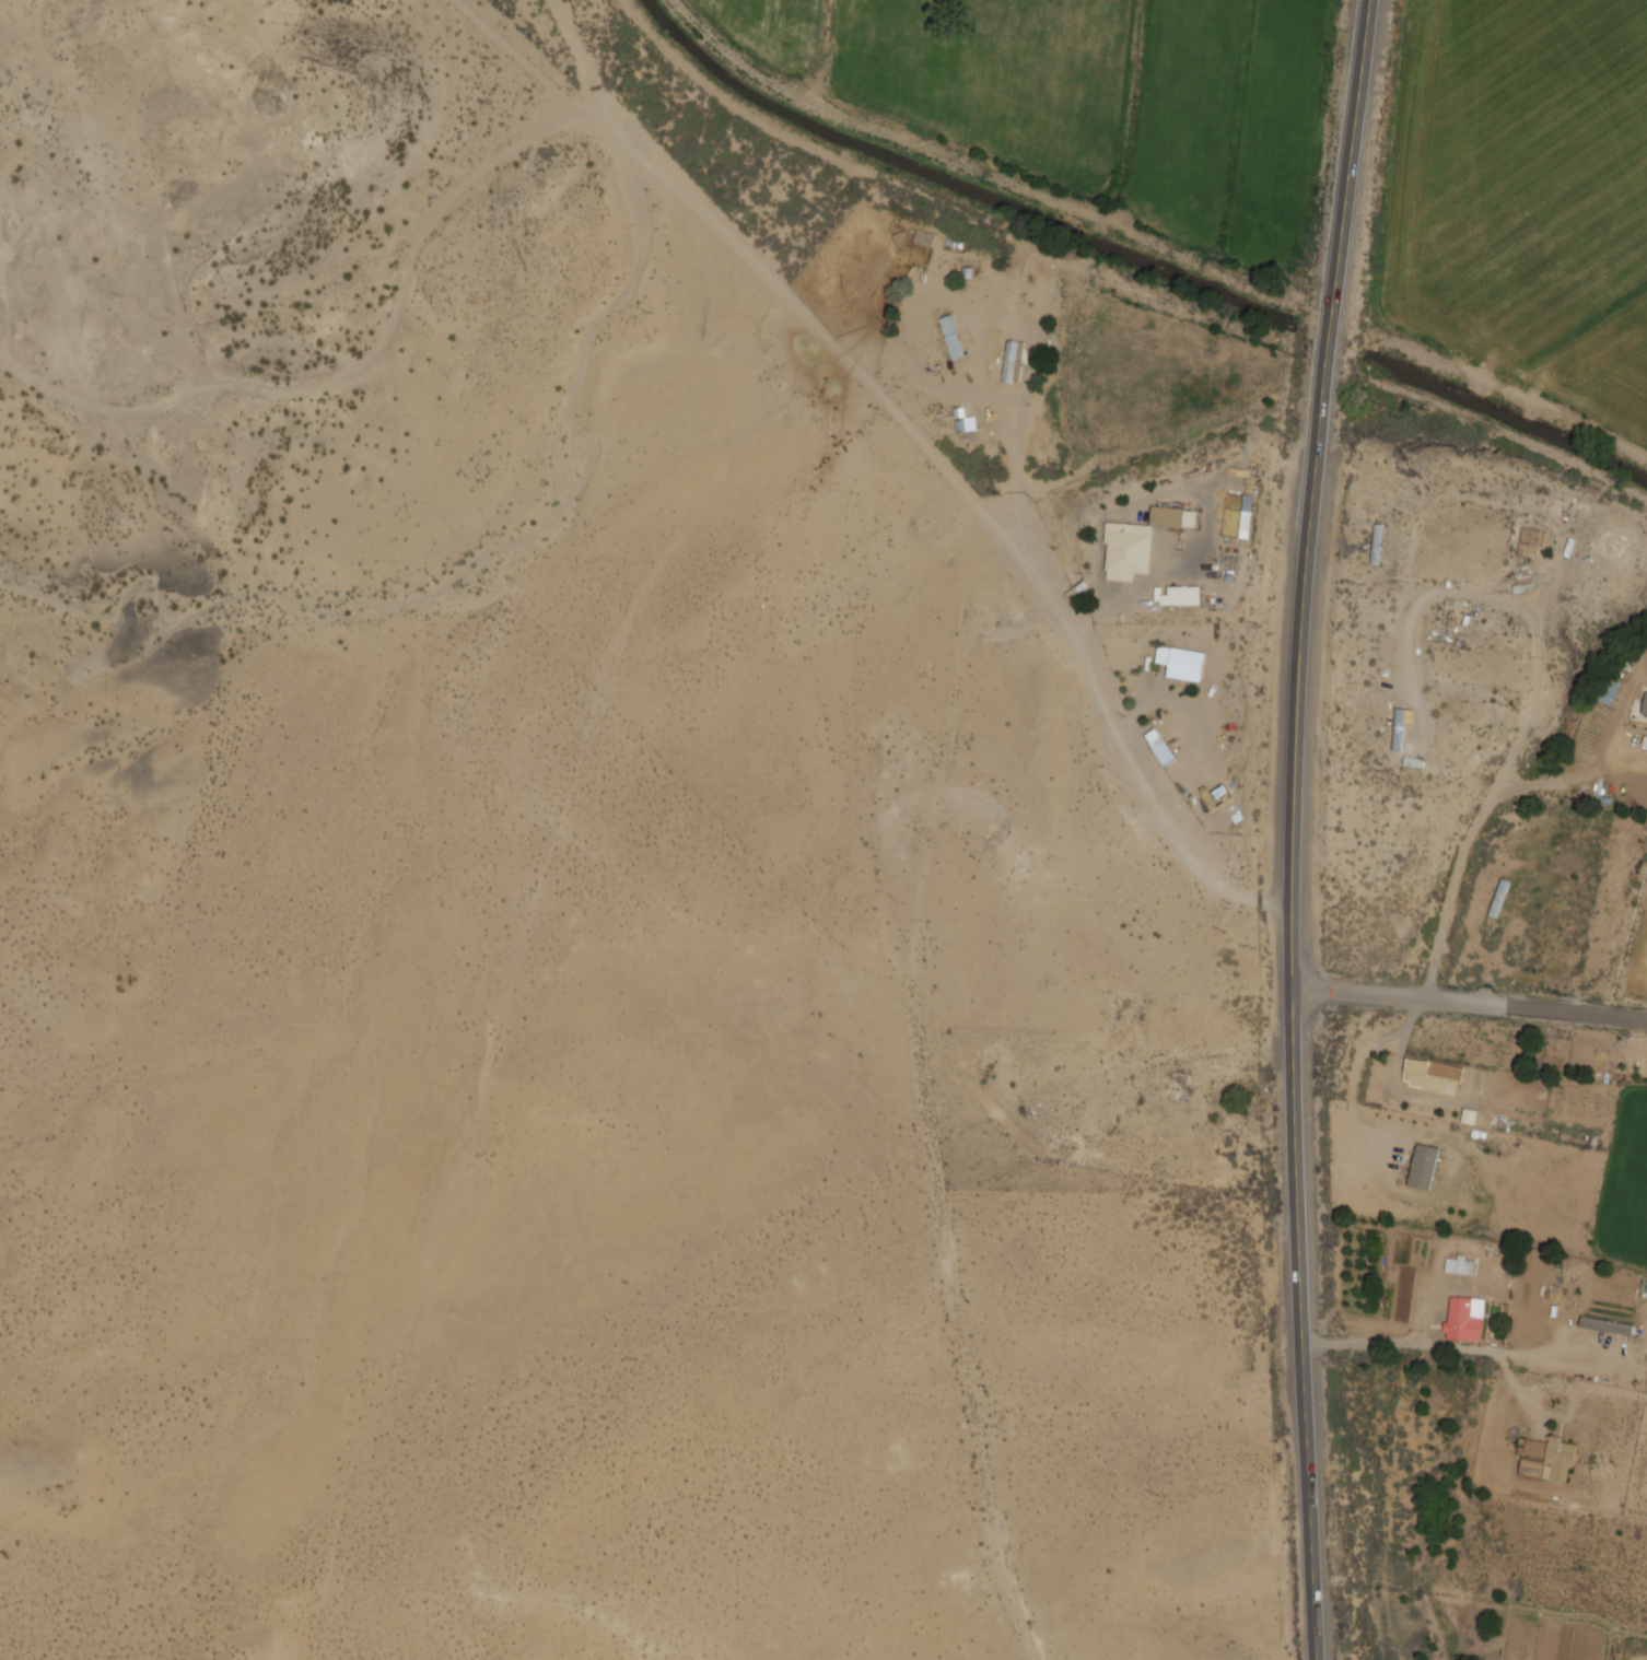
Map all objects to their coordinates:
building: (951, 336)
building: (1012, 360)
road: (922, 460)
building: (1172, 516)
building: (1529, 541)
building: (1126, 550)
building: (1523, 577)
building: (1181, 595)
building: (1181, 662)
building: (1645, 705)
building: (1399, 724)
building: (1160, 746)
road: (1484, 804)
road: (1295, 828)
building: (1498, 898)
road: (1471, 1006)
building: (1430, 1073)
building: (1468, 1115)
building: (1423, 1166)
building: (1459, 1264)
building: (1462, 1320)
building: (1607, 1324)
road: (1427, 1345)
building: (1545, 1459)

